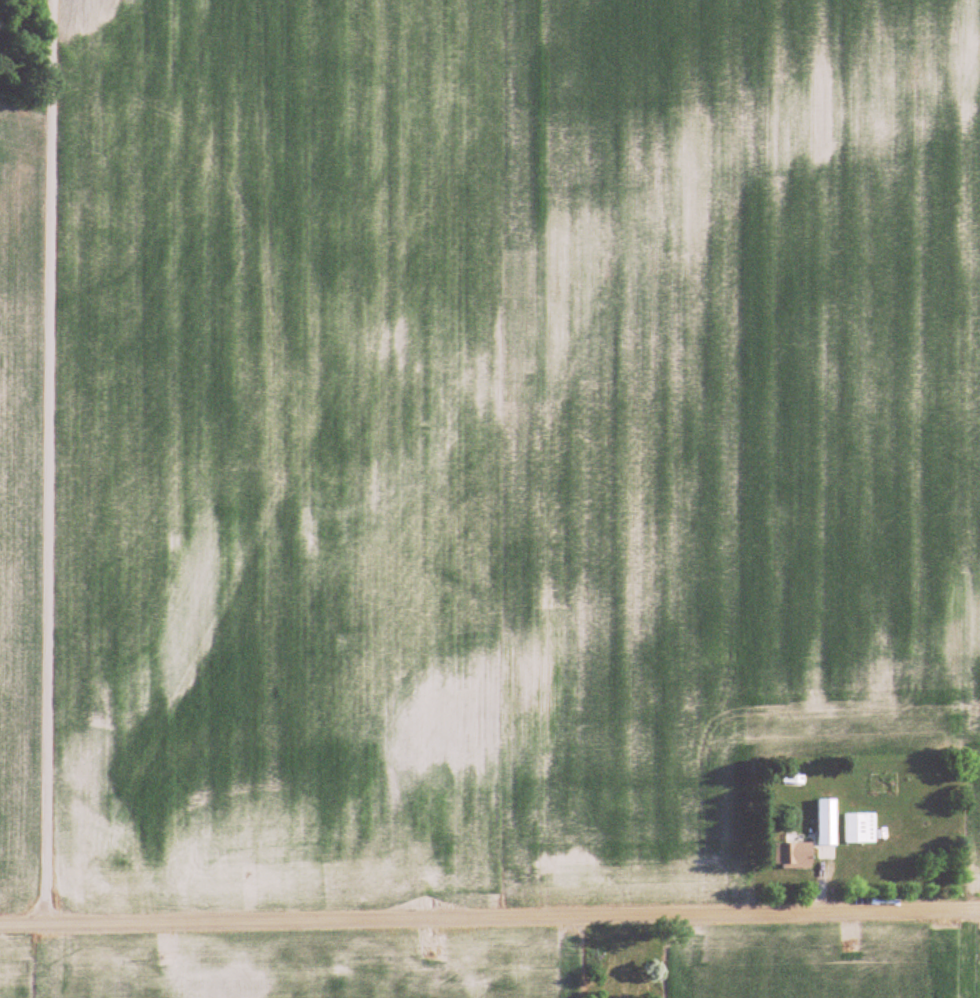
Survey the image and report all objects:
road: (46, 463)
building: (793, 780)
building: (827, 829)
building: (860, 829)
building: (793, 855)
road: (490, 918)

